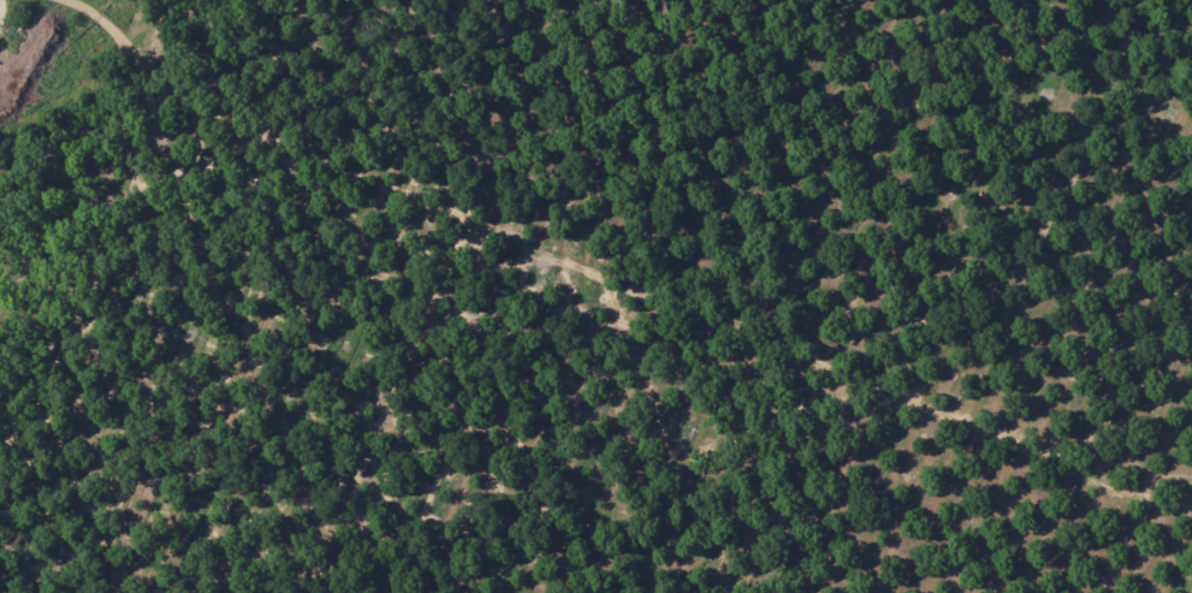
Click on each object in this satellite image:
road: (387, 260)

